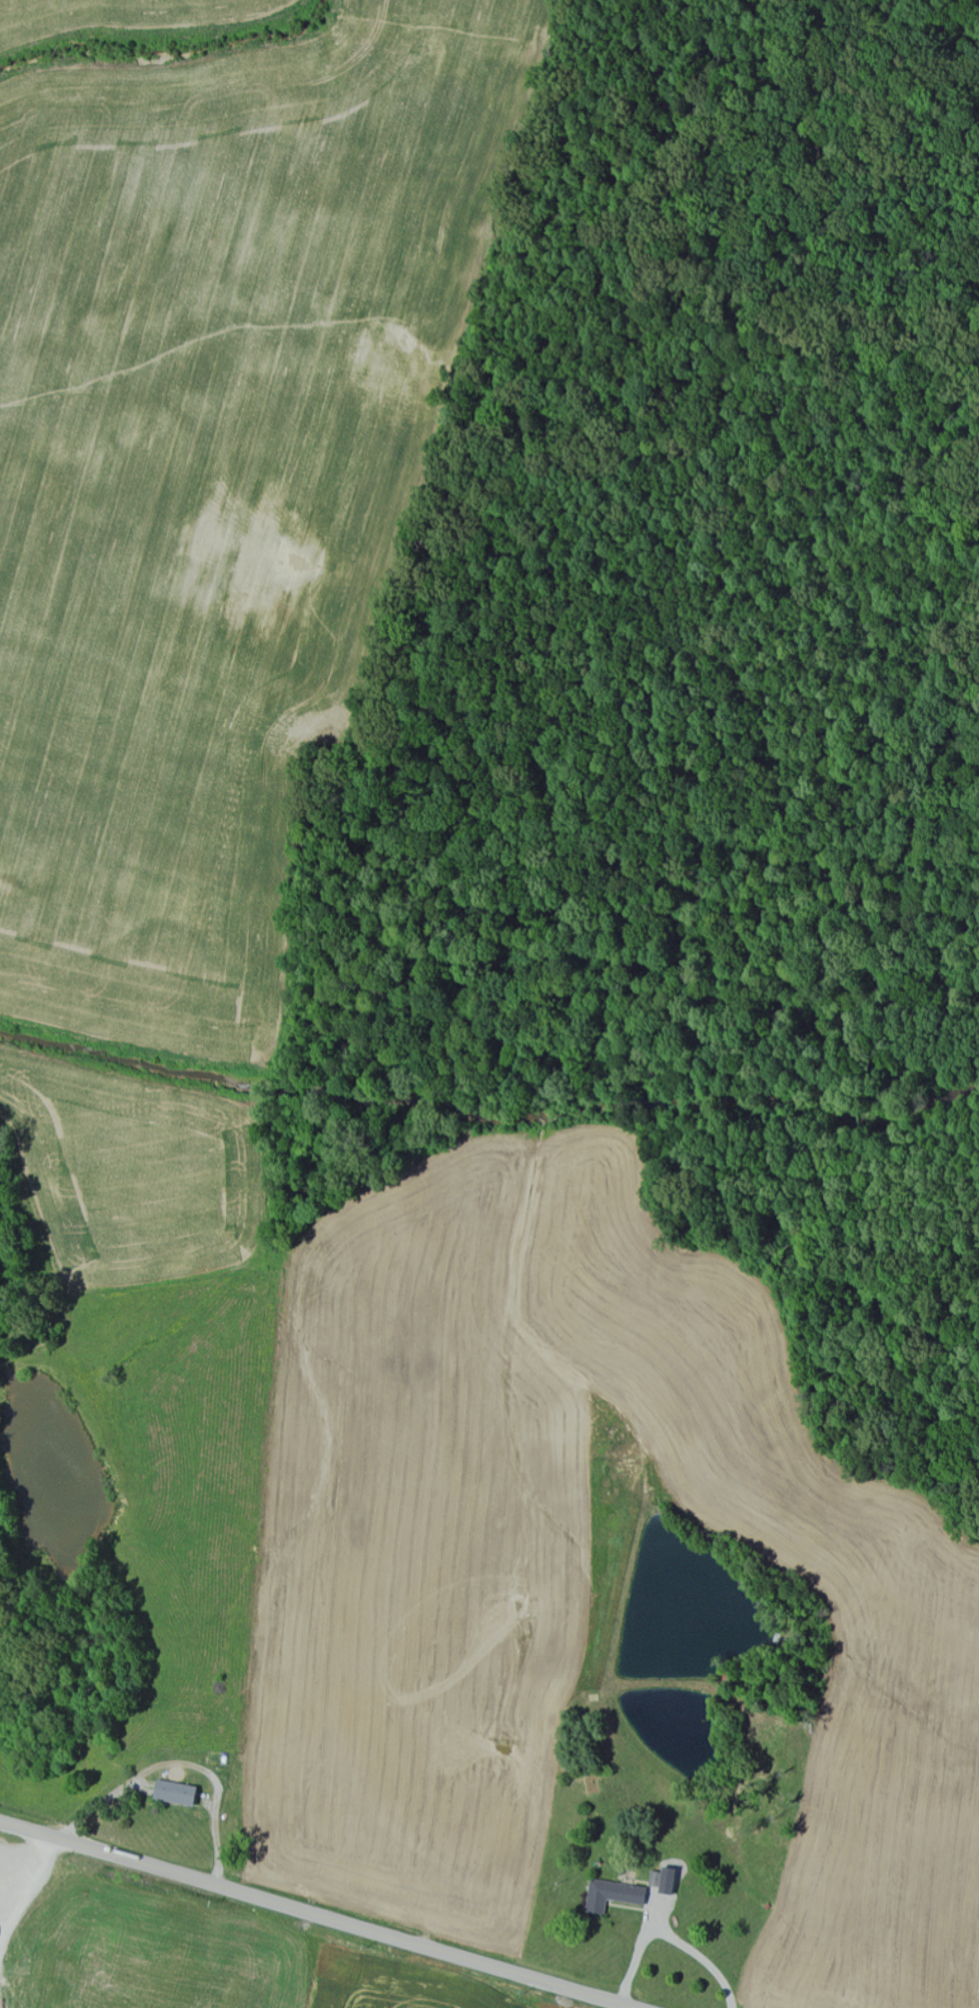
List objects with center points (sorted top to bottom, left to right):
building: (173, 1793)
building: (663, 1881)
building: (611, 1896)
road: (316, 1914)

